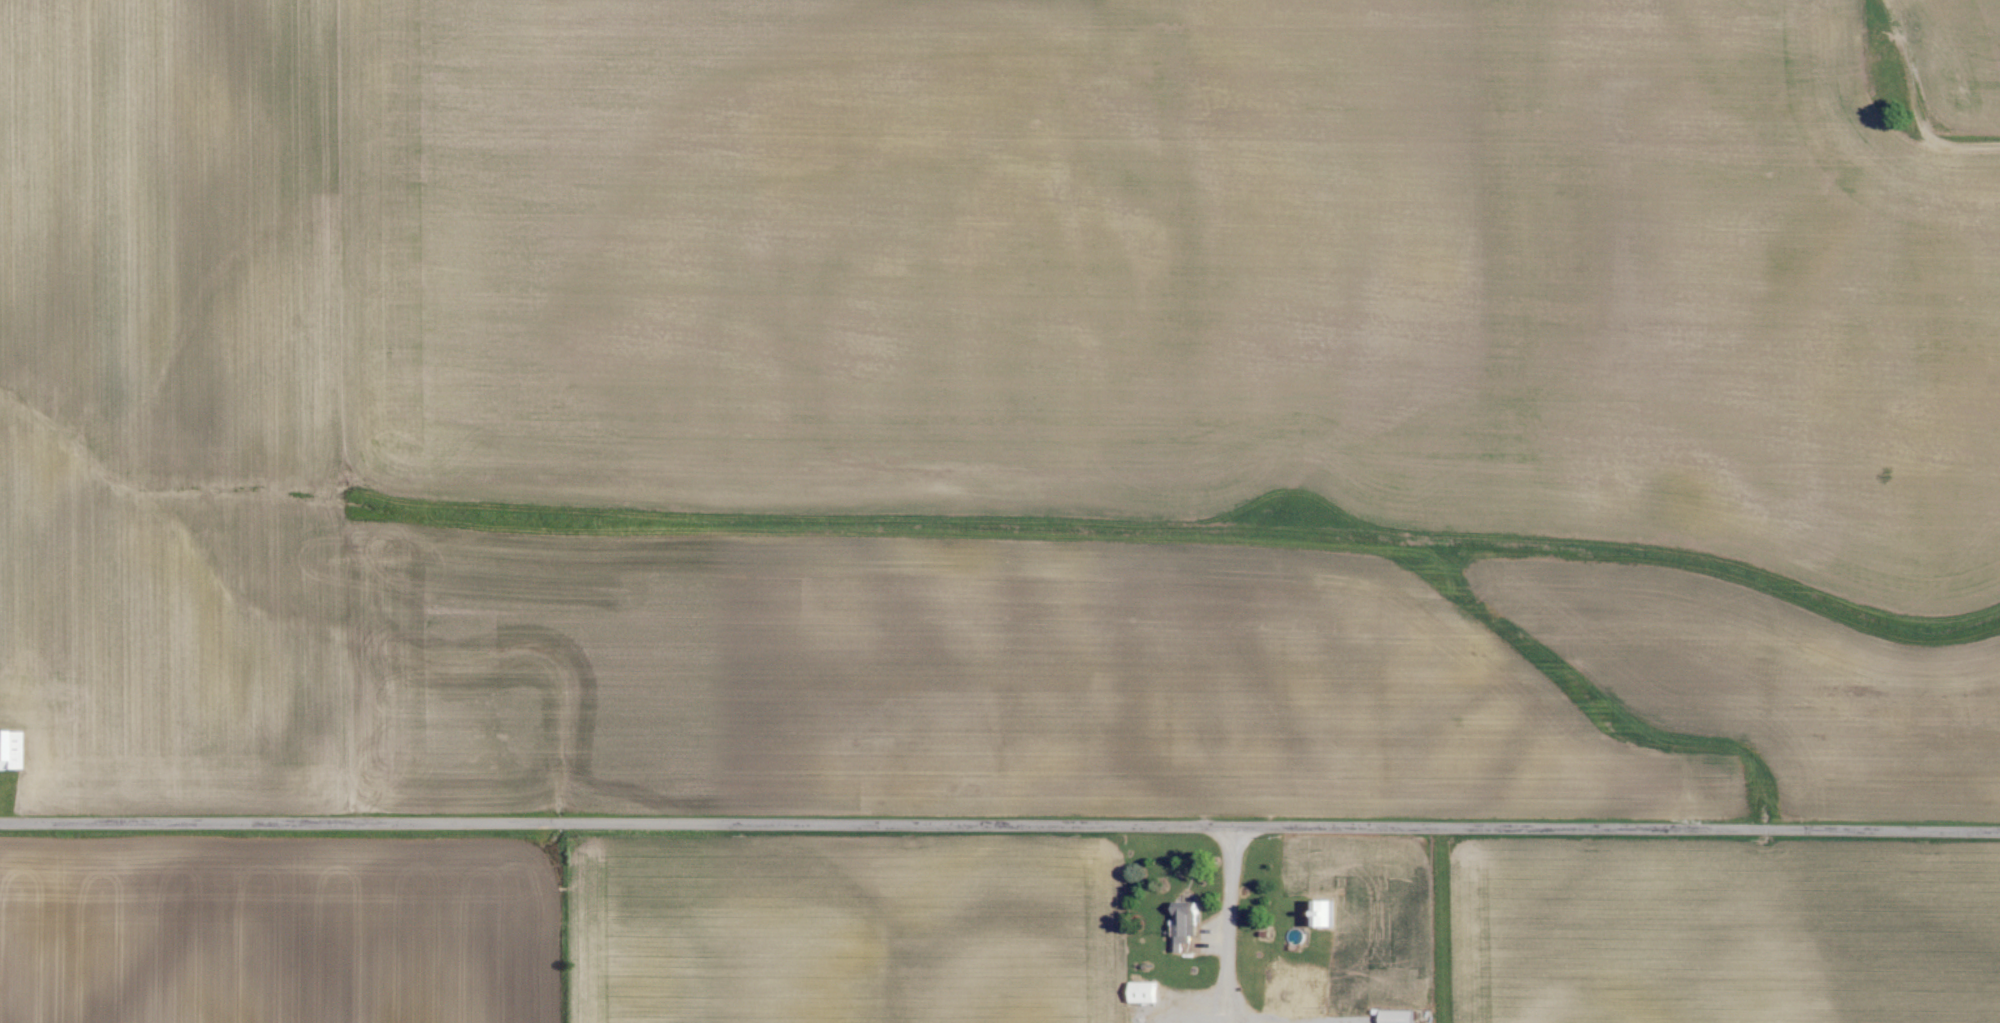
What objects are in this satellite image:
road: (1914, 104)
building: (6, 752)
road: (1000, 823)
road: (1237, 924)
building: (1139, 994)
building: (1396, 1018)

